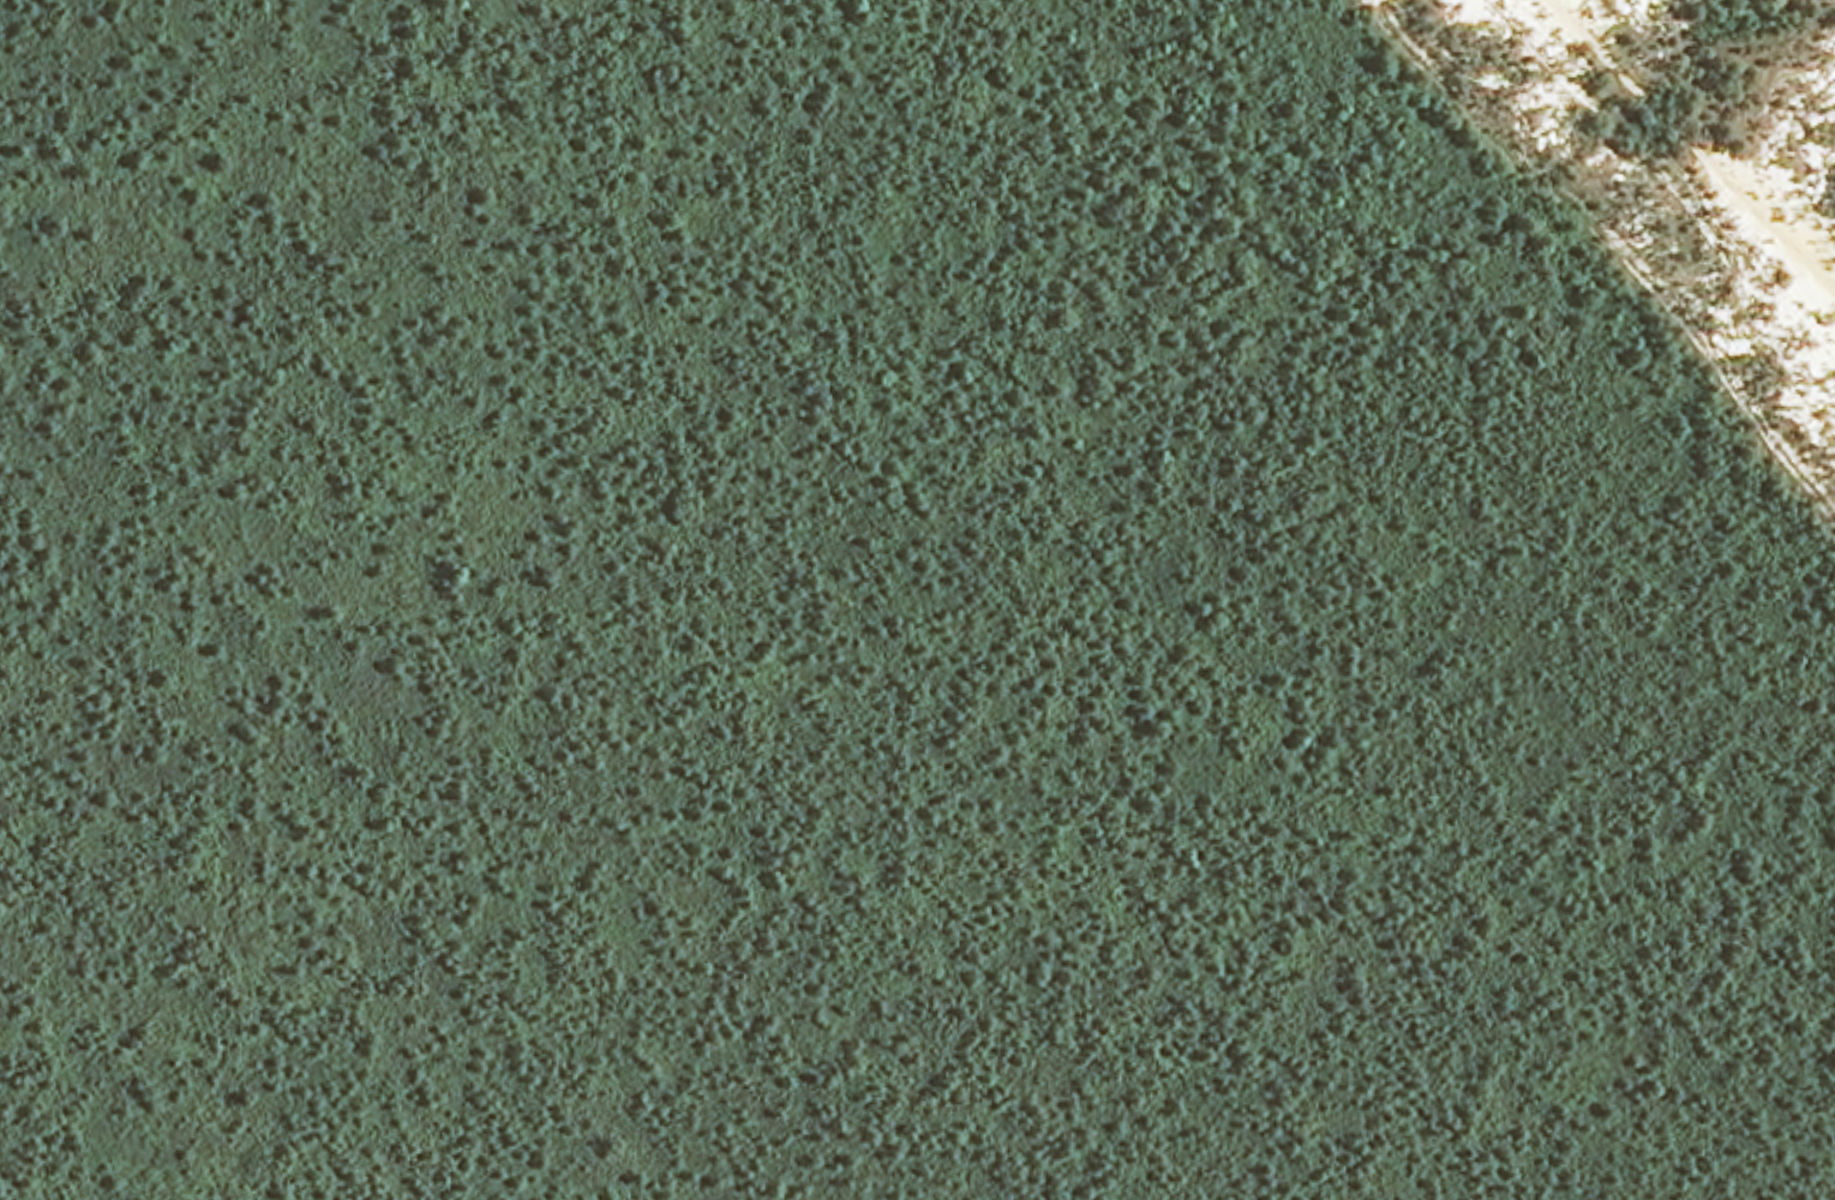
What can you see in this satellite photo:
road: (1758, 94)

